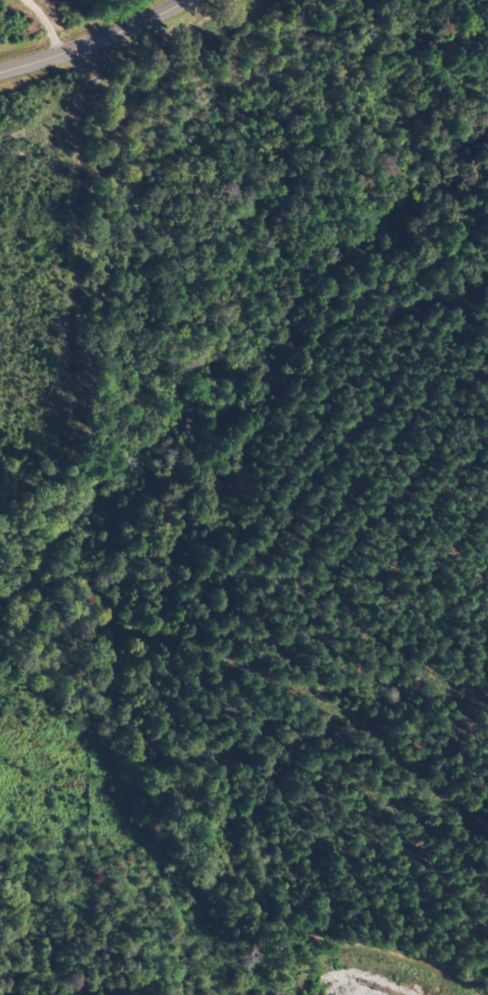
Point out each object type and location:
road: (95, 40)

